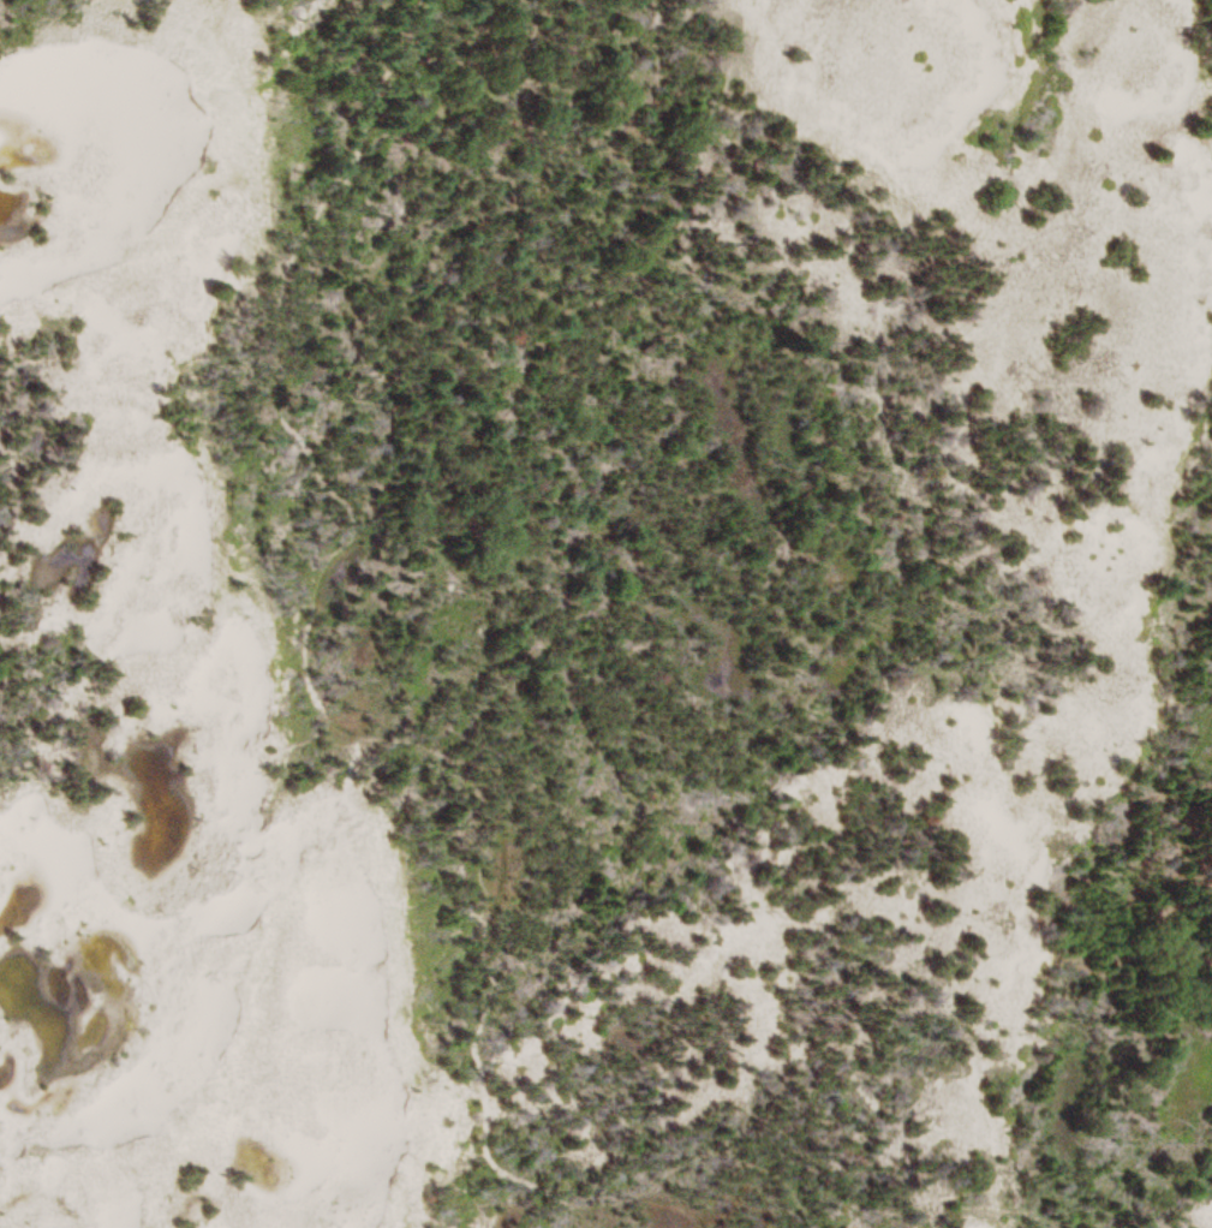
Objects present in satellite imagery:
road: (375, 31)
road: (456, 52)
park: (605, 614)
road: (426, 740)
road: (1122, 875)

